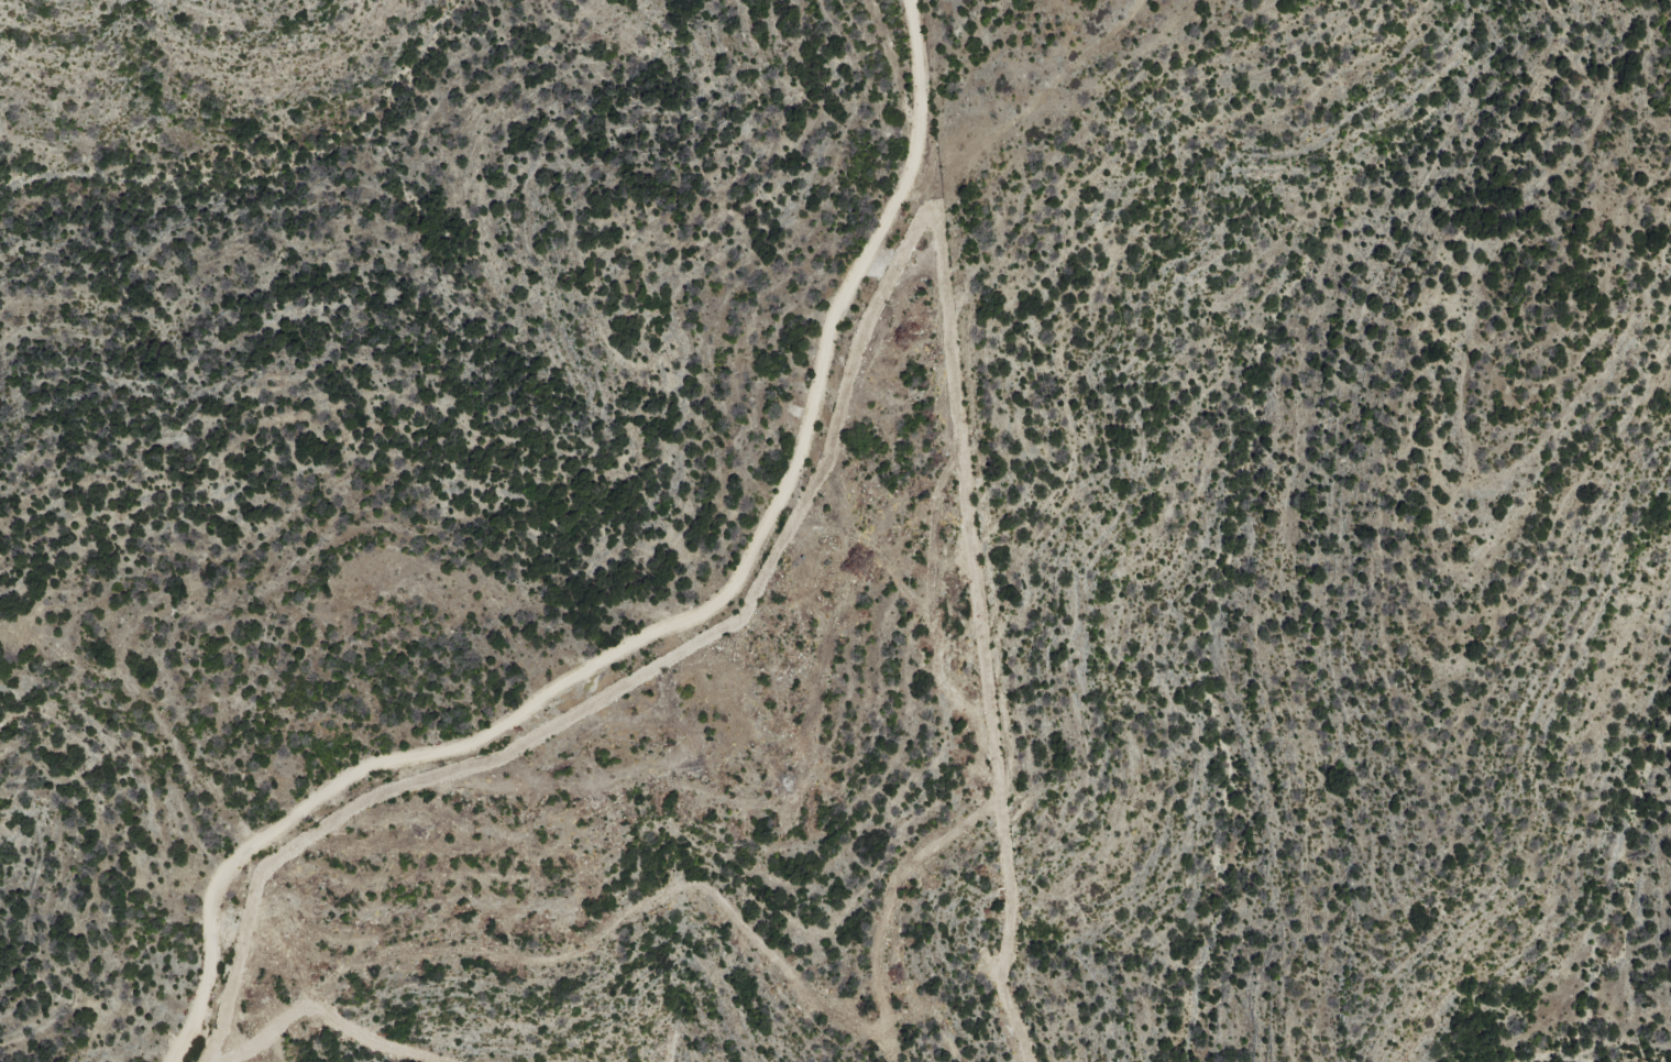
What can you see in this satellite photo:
road: (908, 87)
road: (724, 596)

